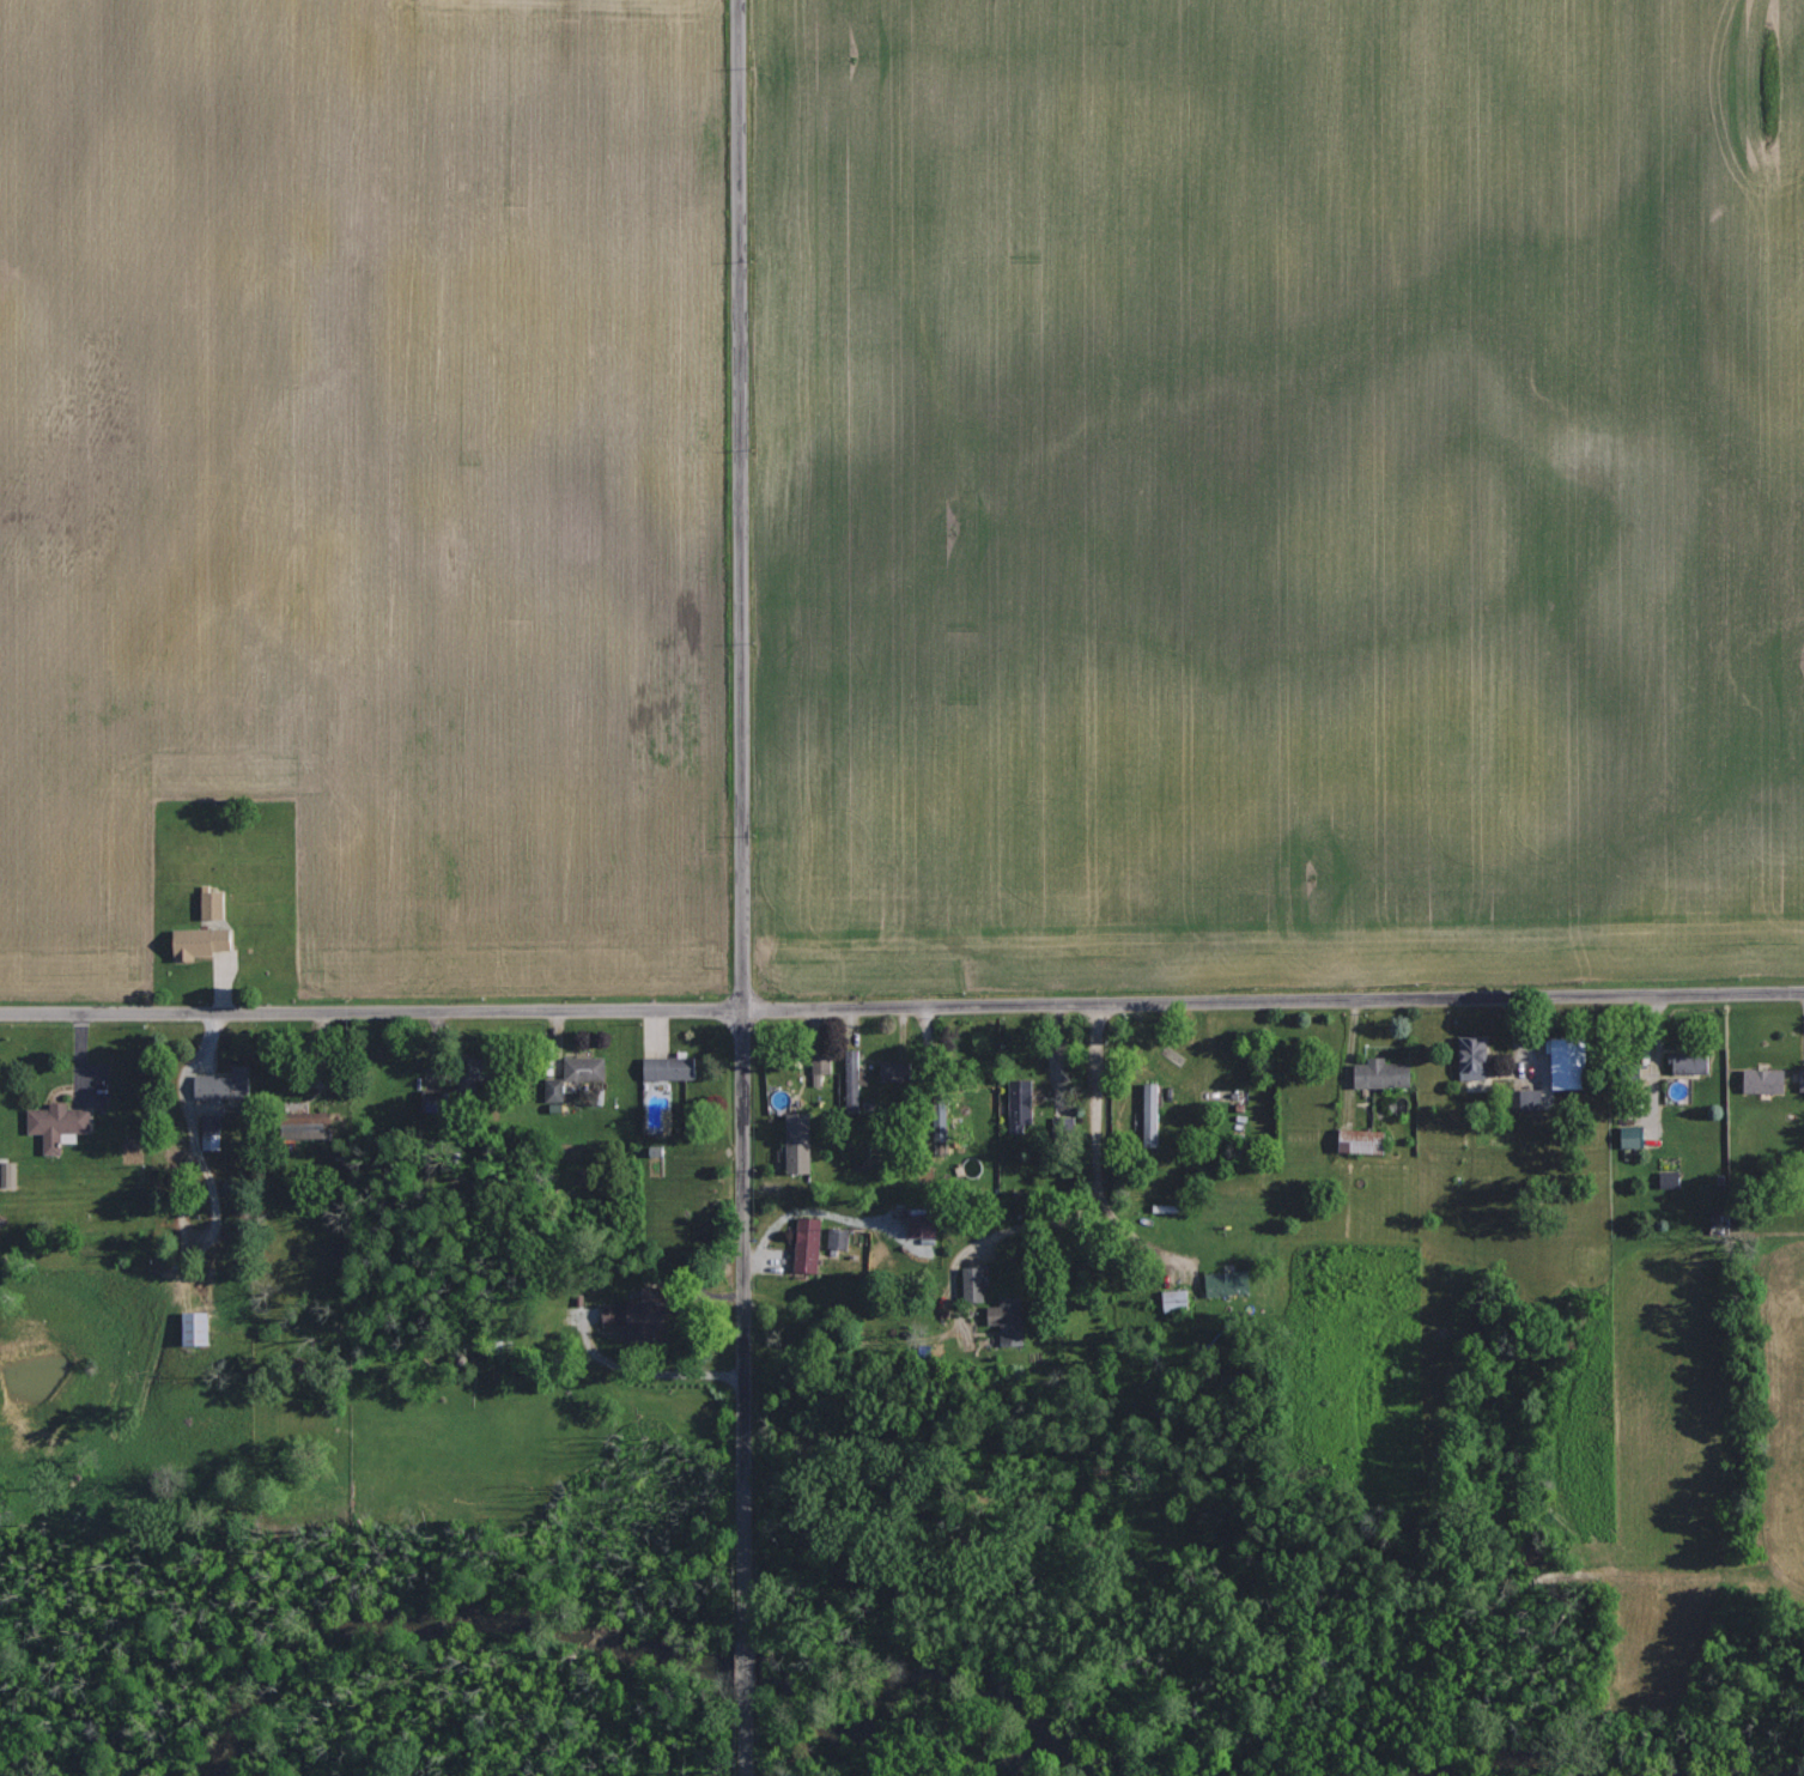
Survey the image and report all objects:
road: (740, 808)
building: (215, 904)
building: (204, 941)
road: (1272, 1000)
road: (370, 1008)
building: (1468, 1056)
building: (1684, 1060)
building: (1559, 1062)
building: (673, 1067)
building: (822, 1067)
building: (588, 1068)
building: (898, 1071)
building: (1377, 1072)
building: (1760, 1080)
building: (1800, 1080)
building: (227, 1084)
building: (557, 1090)
building: (1525, 1098)
building: (1024, 1105)
building: (1154, 1109)
building: (61, 1123)
building: (213, 1132)
building: (1627, 1135)
building: (802, 1142)
building: (13, 1172)
road: (1086, 1207)
building: (924, 1225)
building: (839, 1238)
building: (810, 1244)
building: (1232, 1283)
building: (978, 1284)
building: (1179, 1299)
building: (615, 1314)
building: (652, 1314)
building: (1013, 1320)
building: (201, 1328)
road: (649, 1371)
road: (743, 1683)
road: (743, 1763)

